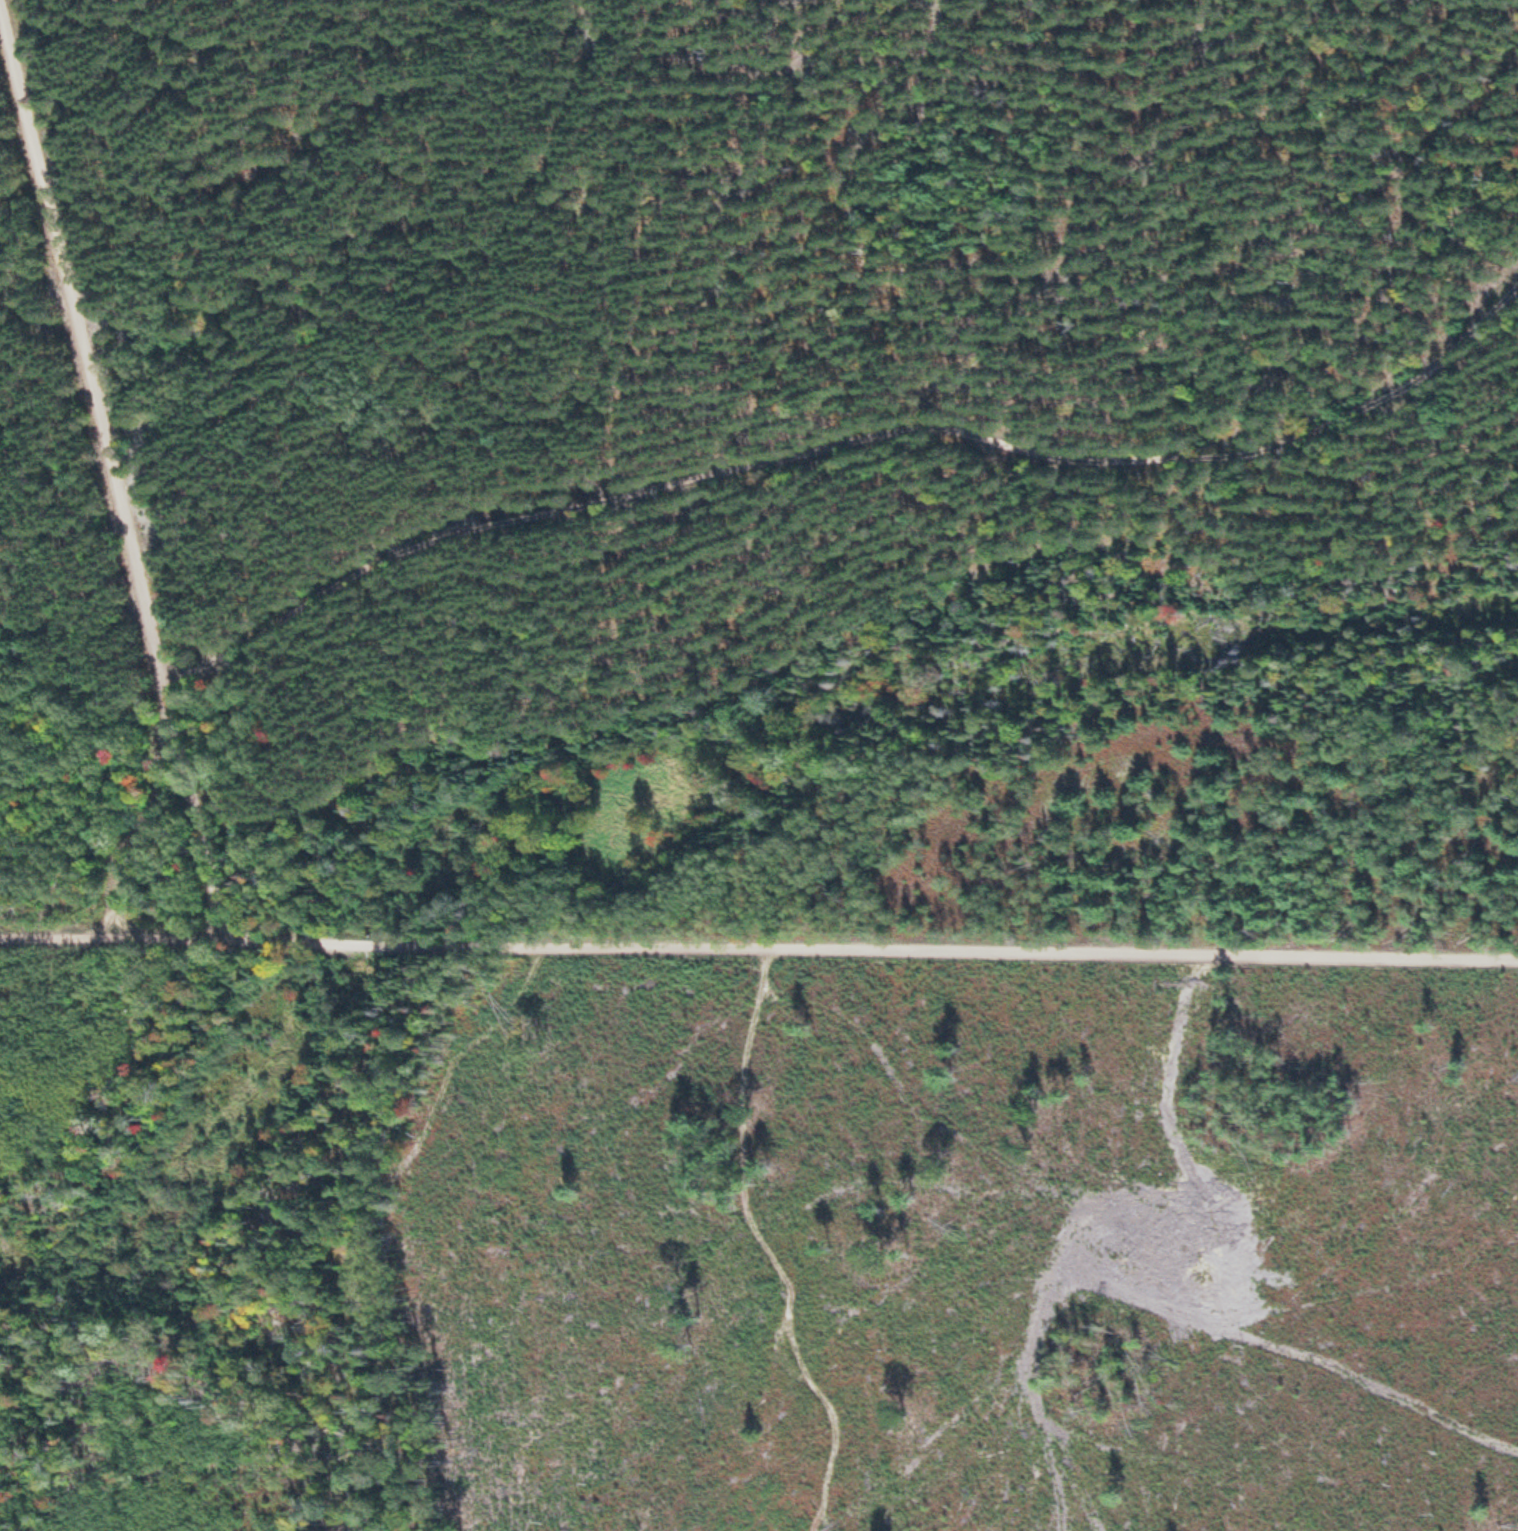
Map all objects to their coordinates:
road: (853, 424)
road: (119, 464)
road: (112, 929)
road: (871, 950)
road: (764, 1246)

